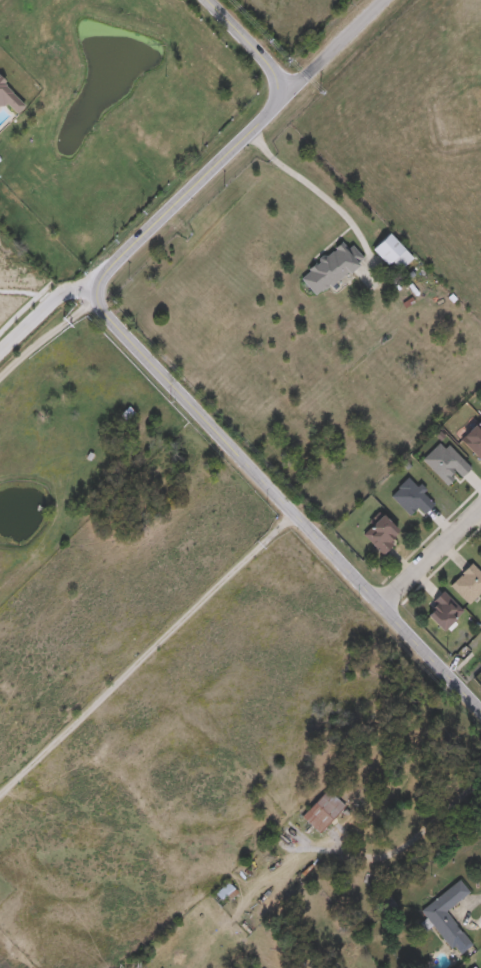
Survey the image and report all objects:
road: (244, 45)
road: (336, 45)
building: (11, 100)
road: (311, 186)
building: (392, 254)
building: (331, 270)
road: (43, 310)
road: (46, 335)
road: (185, 406)
building: (472, 437)
building: (408, 495)
building: (378, 532)
building: (480, 555)
road: (429, 557)
building: (466, 582)
building: (440, 609)
road: (144, 653)
building: (324, 813)
road: (415, 837)
building: (225, 895)
road: (465, 906)
building: (449, 919)

